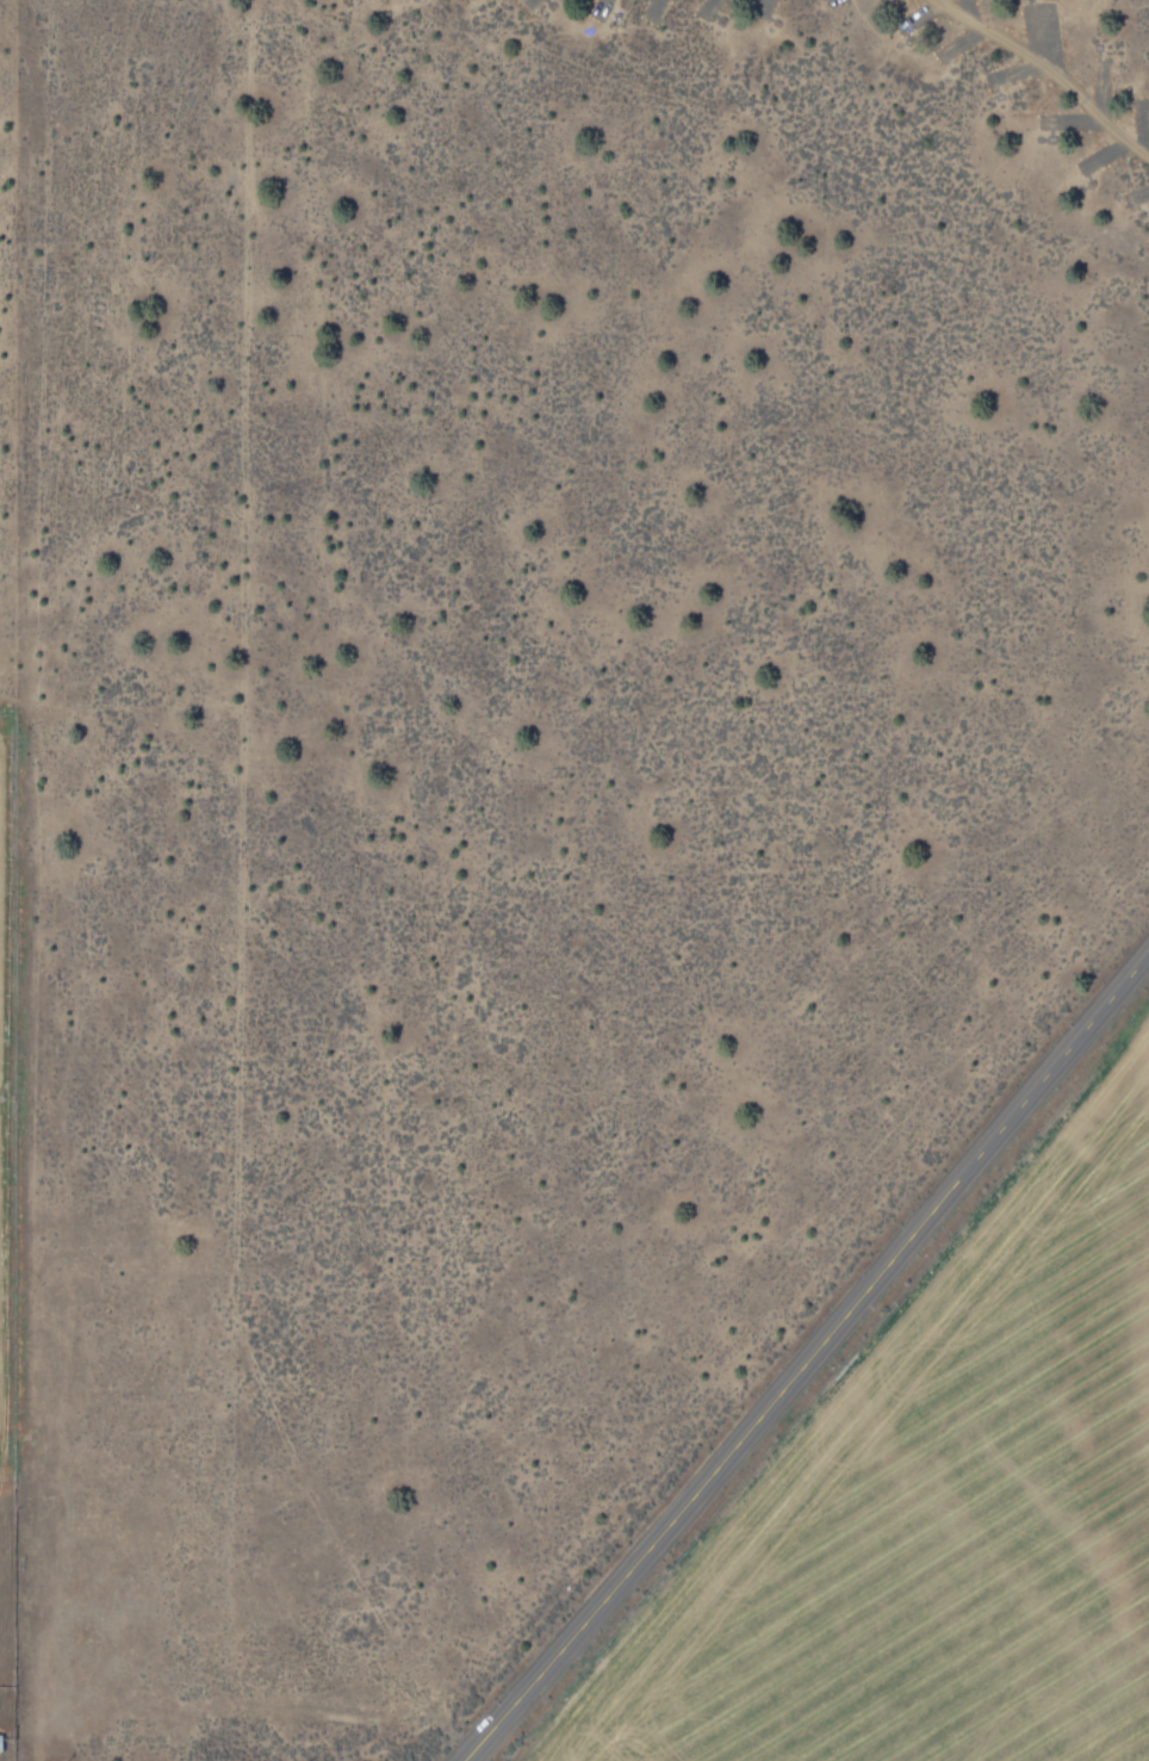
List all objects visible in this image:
road: (1048, 70)
road: (809, 1359)
crop: (1, 1495)
crop: (932, 1508)
road: (272, 1705)
building: (1, 1742)

